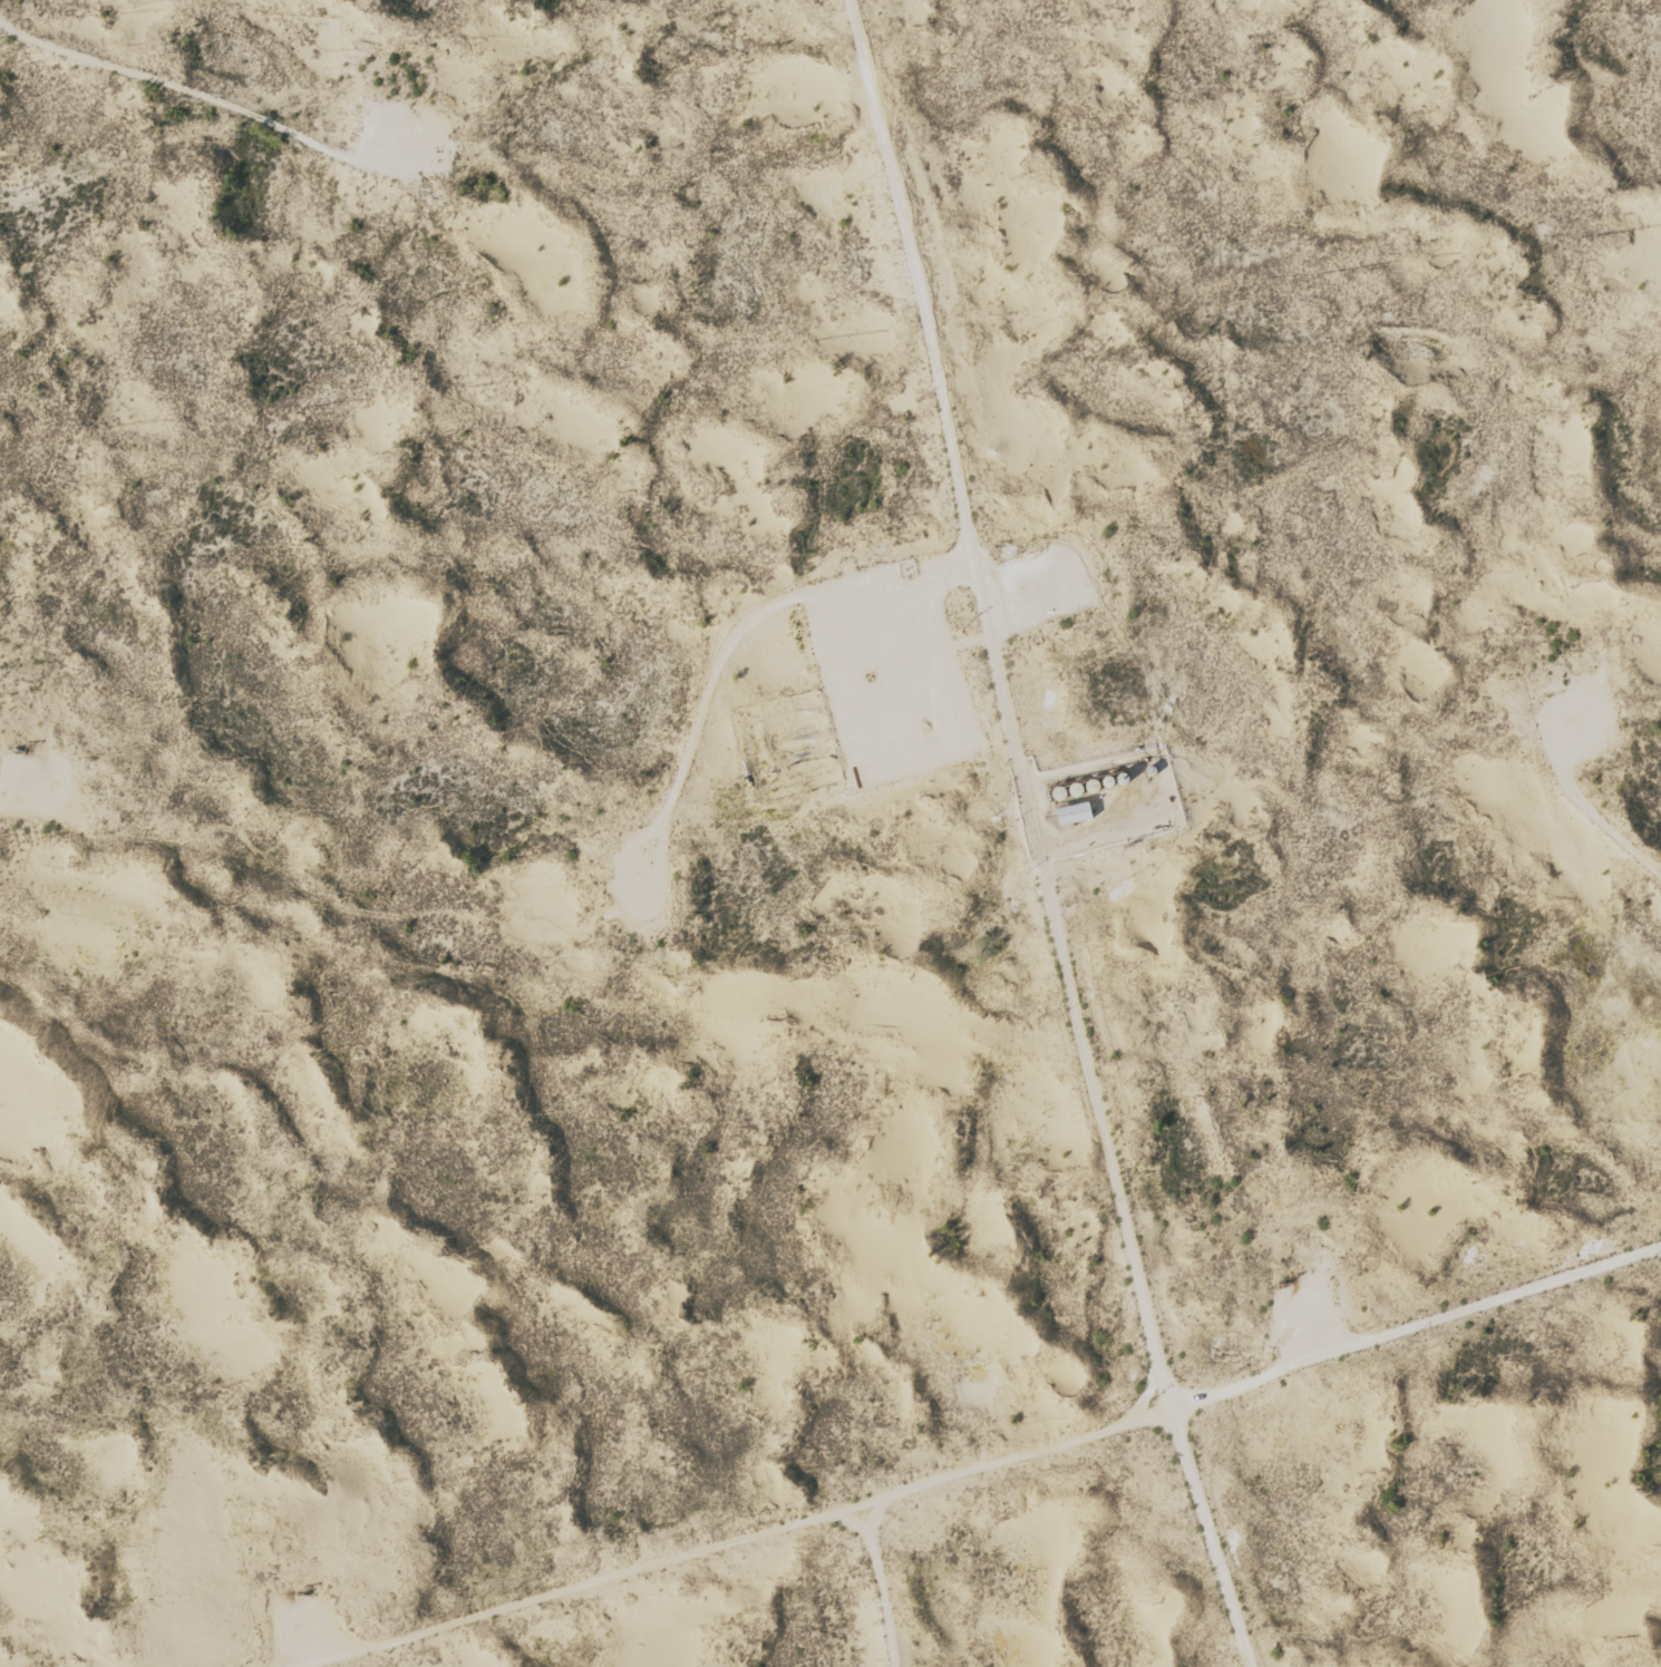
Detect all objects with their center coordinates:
road: (1050, 833)

